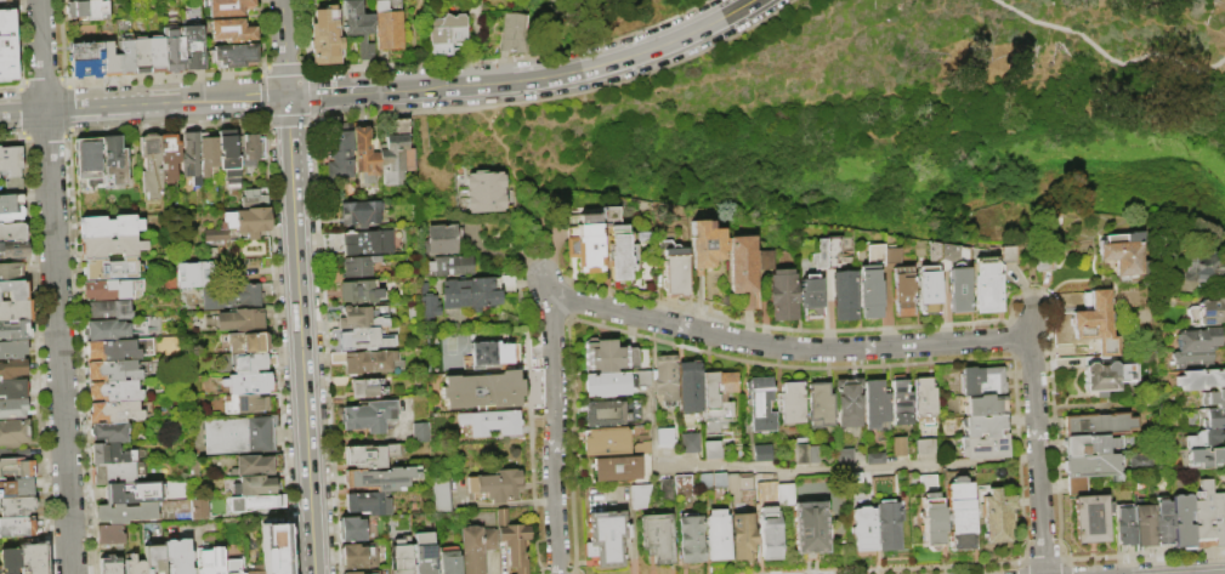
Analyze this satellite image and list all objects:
building: (4, 1)
building: (228, 7)
building: (87, 10)
building: (387, 24)
building: (358, 27)
building: (232, 30)
building: (512, 33)
building: (446, 34)
building: (324, 36)
building: (7, 46)
building: (191, 47)
road: (284, 47)
building: (171, 50)
building: (86, 51)
building: (140, 55)
building: (155, 55)
road: (1105, 55)
building: (233, 56)
building: (125, 58)
building: (108, 59)
building: (86, 68)
road: (582, 69)
road: (342, 92)
road: (143, 104)
park: (875, 110)
building: (253, 150)
building: (208, 153)
building: (363, 154)
building: (393, 154)
building: (339, 155)
building: (169, 158)
building: (191, 158)
building: (228, 158)
building: (114, 160)
building: (87, 161)
building: (151, 166)
building: (12, 169)
building: (477, 191)
building: (253, 199)
building: (637, 204)
building: (10, 208)
building: (358, 214)
building: (253, 222)
building: (109, 227)
building: (12, 232)
building: (216, 235)
building: (642, 237)
building: (441, 239)
building: (396, 241)
building: (361, 243)
building: (385, 243)
building: (585, 245)
building: (705, 245)
building: (110, 248)
building: (619, 248)
building: (826, 248)
building: (13, 251)
building: (1006, 254)
building: (1124, 254)
building: (881, 255)
building: (1044, 261)
building: (742, 265)
building: (357, 266)
building: (450, 266)
building: (1203, 266)
building: (110, 269)
building: (674, 269)
building: (11, 273)
building: (191, 273)
building: (929, 280)
building: (985, 284)
road: (55, 286)
road: (545, 288)
building: (958, 289)
building: (15, 290)
building: (107, 290)
building: (902, 291)
building: (476, 292)
building: (844, 292)
building: (869, 292)
building: (359, 294)
building: (783, 295)
building: (236, 296)
building: (811, 296)
building: (429, 303)
building: (16, 311)
building: (109, 311)
building: (1208, 312)
building: (358, 319)
building: (242, 322)
building: (1095, 324)
building: (107, 330)
building: (15, 331)
road: (300, 335)
building: (358, 339)
building: (1198, 339)
building: (246, 343)
road: (784, 347)
building: (12, 349)
building: (119, 349)
building: (488, 354)
building: (608, 356)
road: (554, 357)
building: (1192, 357)
building: (365, 362)
building: (251, 363)
building: (12, 369)
building: (113, 370)
building: (1105, 376)
building: (642, 377)
building: (667, 379)
building: (1202, 379)
building: (690, 381)
building: (981, 381)
building: (250, 383)
building: (607, 383)
building: (367, 388)
building: (13, 390)
building: (114, 391)
building: (495, 391)
building: (718, 394)
building: (924, 397)
building: (1214, 398)
building: (792, 403)
building: (901, 403)
building: (248, 404)
building: (875, 404)
building: (761, 405)
building: (819, 405)
building: (985, 405)
building: (849, 407)
building: (12, 409)
building: (115, 411)
building: (612, 413)
building: (367, 416)
building: (1215, 417)
building: (498, 420)
building: (1099, 424)
building: (983, 425)
building: (109, 432)
building: (420, 432)
building: (13, 433)
building: (238, 436)
building: (665, 437)
building: (1201, 438)
building: (606, 442)
building: (690, 443)
road: (1036, 443)
building: (924, 444)
building: (1090, 444)
building: (898, 447)
building: (985, 447)
building: (641, 448)
building: (713, 449)
building: (800, 451)
building: (762, 453)
building: (110, 454)
building: (813, 454)
building: (368, 456)
building: (845, 456)
building: (1202, 458)
building: (875, 459)
building: (1141, 461)
building: (257, 465)
building: (1093, 465)
building: (622, 467)
building: (16, 468)
building: (193, 468)
road: (812, 471)
building: (119, 473)
building: (853, 477)
building: (379, 479)
building: (705, 481)
building: (719, 481)
building: (760, 483)
building: (682, 484)
building: (737, 485)
building: (881, 485)
building: (1077, 485)
building: (257, 487)
building: (494, 487)
building: (16, 489)
building: (665, 490)
building: (131, 493)
building: (438, 494)
road: (554, 494)
building: (639, 495)
building: (784, 495)
building: (255, 502)
building: (368, 504)
building: (16, 507)
building: (199, 510)
building: (125, 513)
building: (958, 513)
building: (997, 516)
building: (1203, 516)
building: (1218, 517)
building: (1090, 518)
building: (931, 519)
building: (1183, 521)
building: (1163, 523)
building: (1123, 524)
building: (886, 525)
building: (1144, 525)
building: (17, 527)
building: (810, 528)
building: (357, 529)
building: (862, 529)
building: (769, 533)
building: (716, 535)
building: (109, 536)
building: (656, 536)
building: (741, 536)
building: (605, 539)
building: (690, 539)
building: (512, 541)
building: (274, 545)
building: (475, 547)
building: (424, 555)
building: (177, 556)
building: (401, 556)
building: (357, 557)
building: (33, 558)
building: (153, 558)
building: (8, 561)
building: (210, 561)
building: (449, 561)
building: (109, 566)
building: (134, 566)
building: (232, 567)
building: (253, 573)
building: (367, 573)

